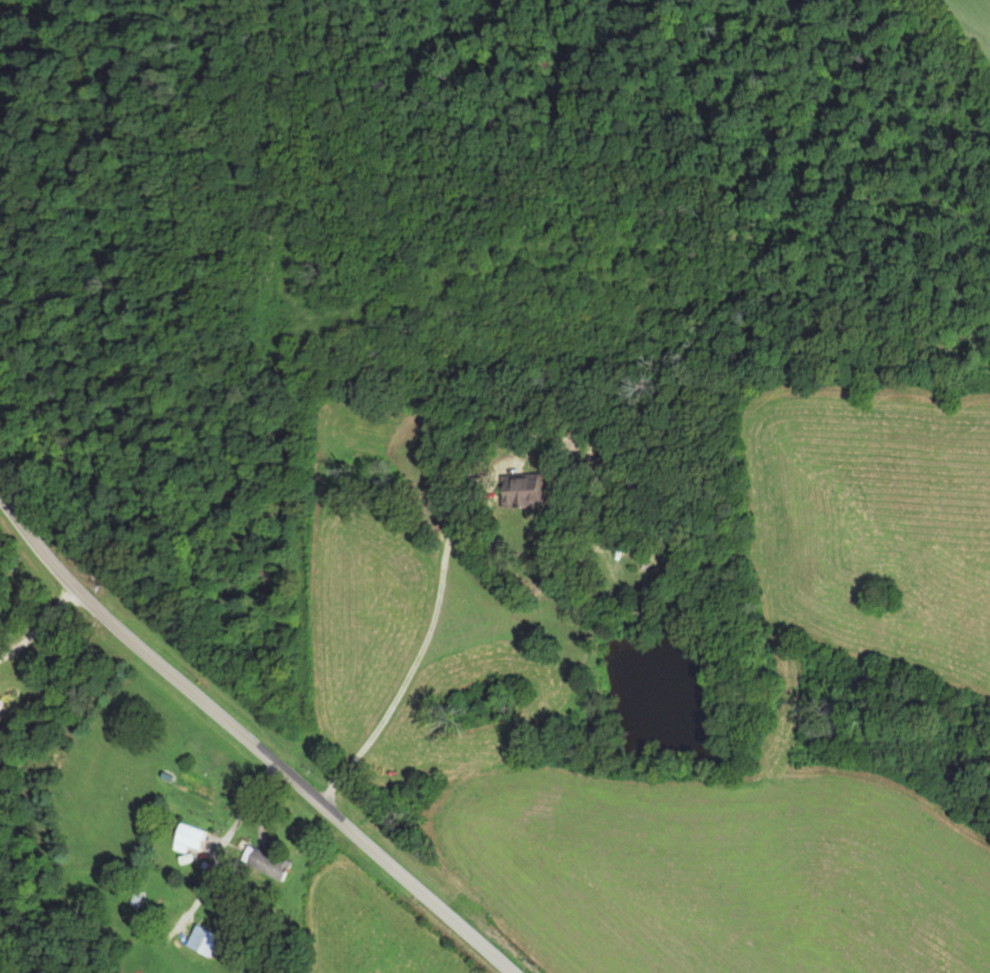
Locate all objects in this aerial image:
building: (532, 490)
building: (3, 705)
road: (249, 740)
building: (189, 837)
building: (200, 937)

